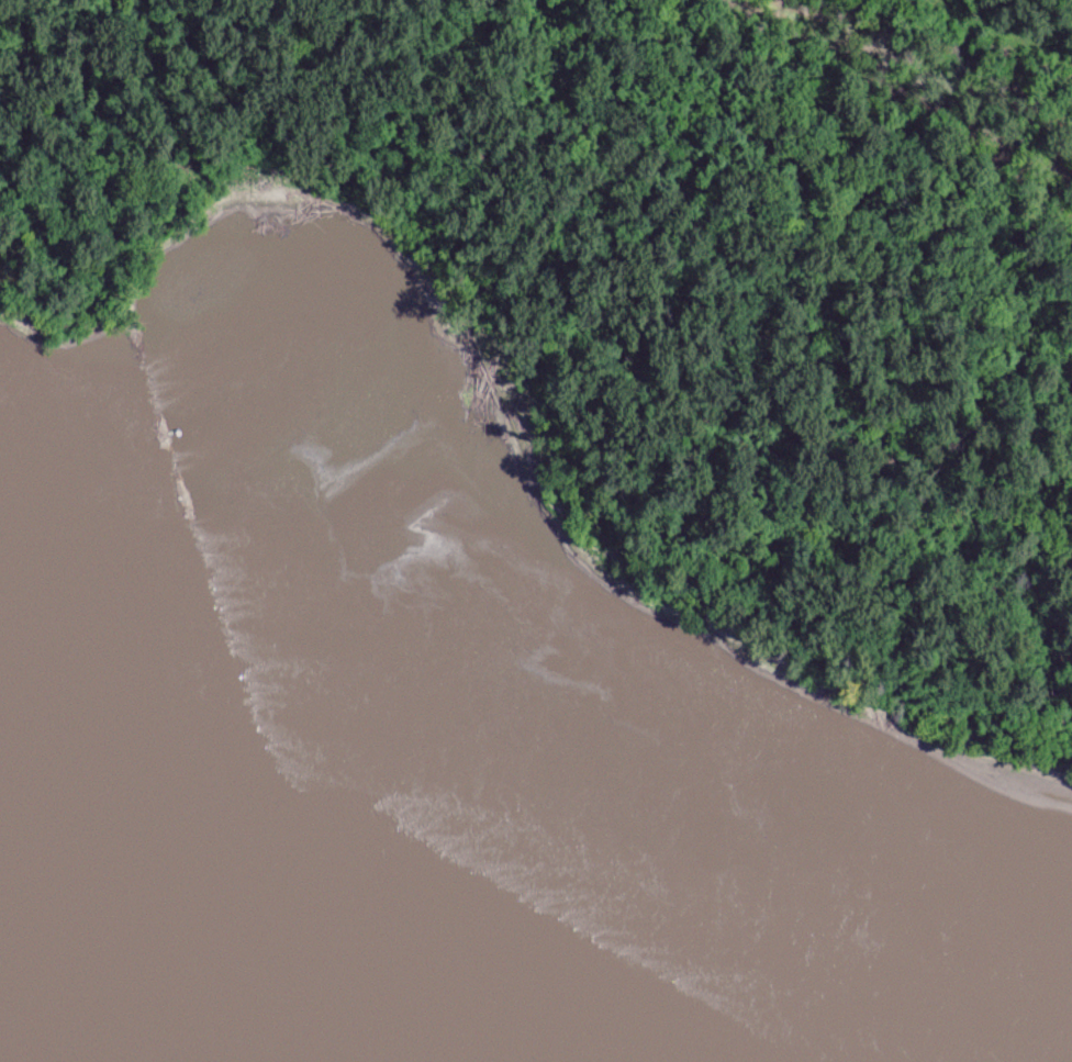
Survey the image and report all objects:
river: (77, 1021)

